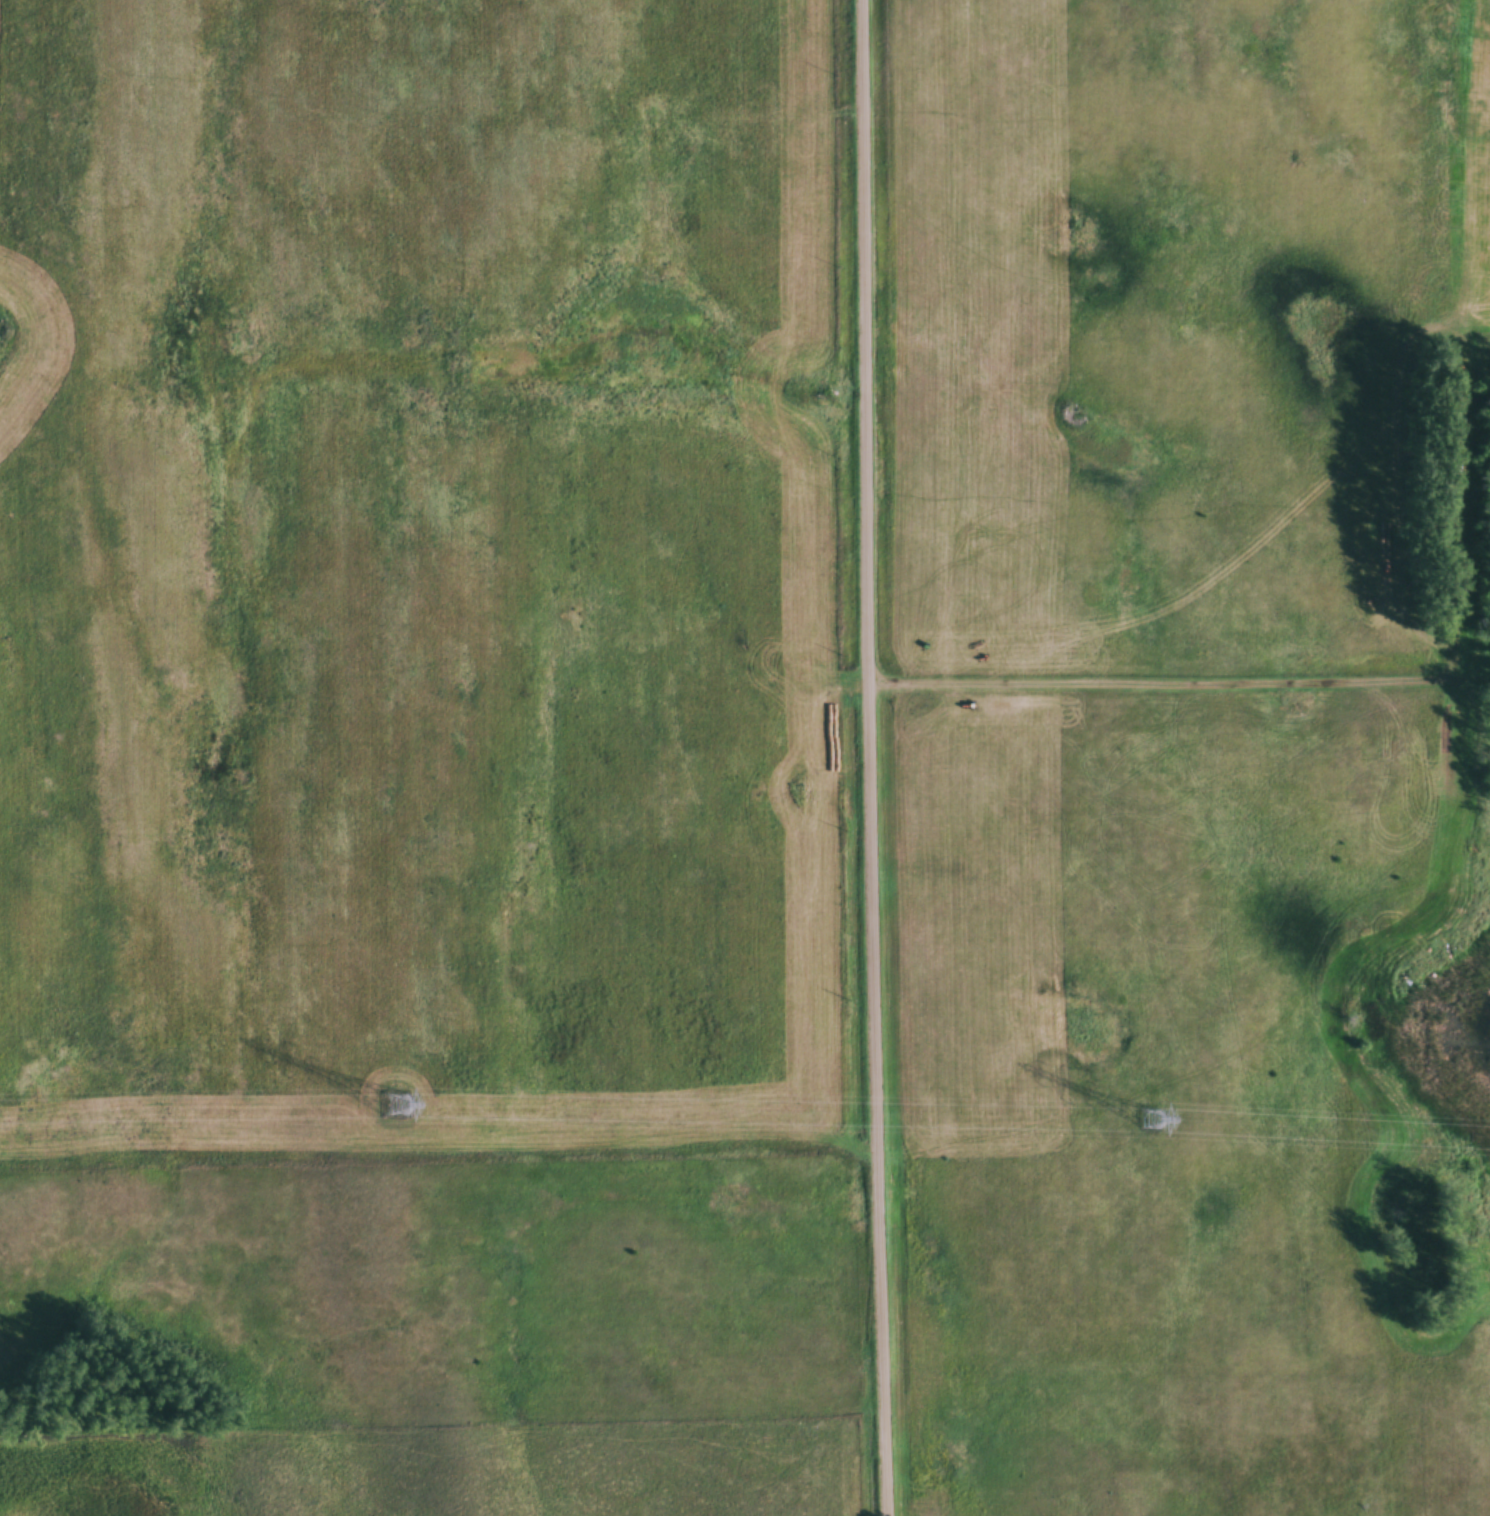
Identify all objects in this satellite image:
road: (1180, 680)
road: (871, 758)
power tower: (391, 1106)
power tower: (1151, 1120)

